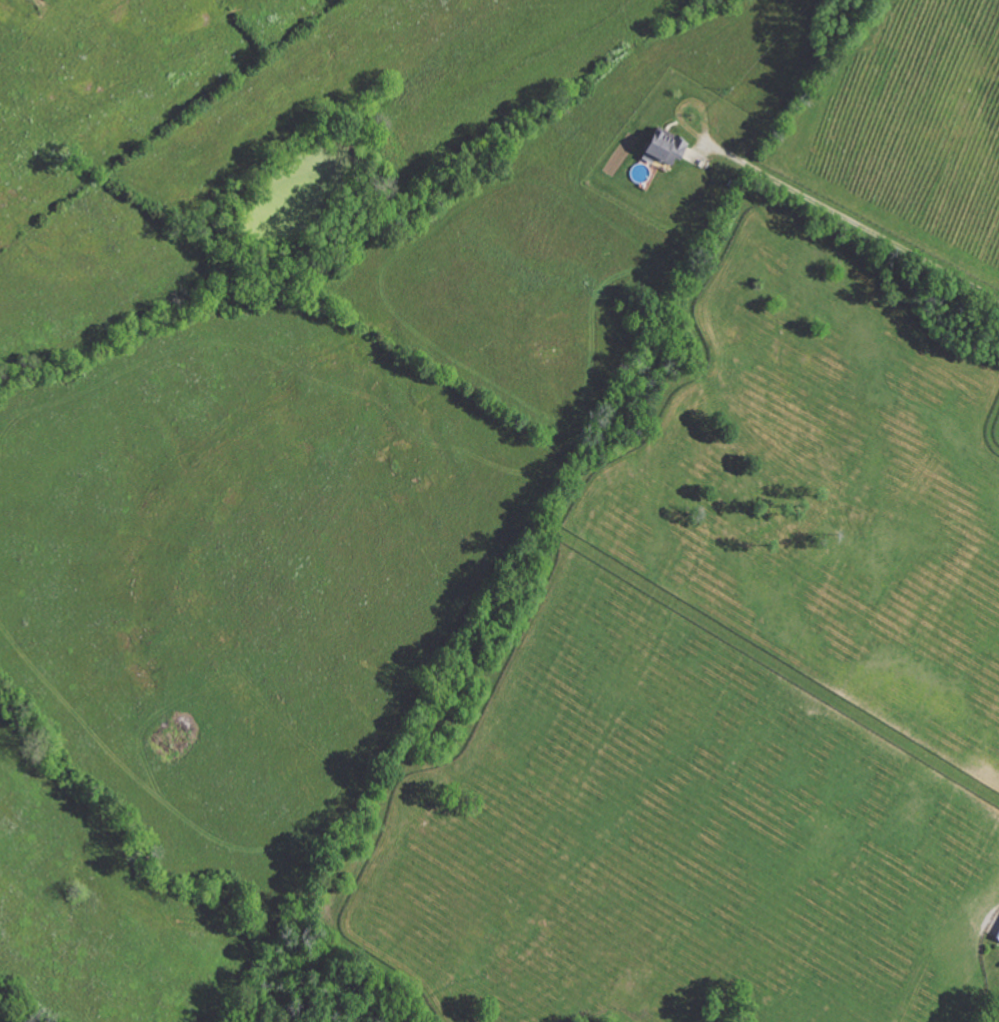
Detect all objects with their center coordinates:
building: (659, 147)
road: (862, 227)
building: (997, 937)

